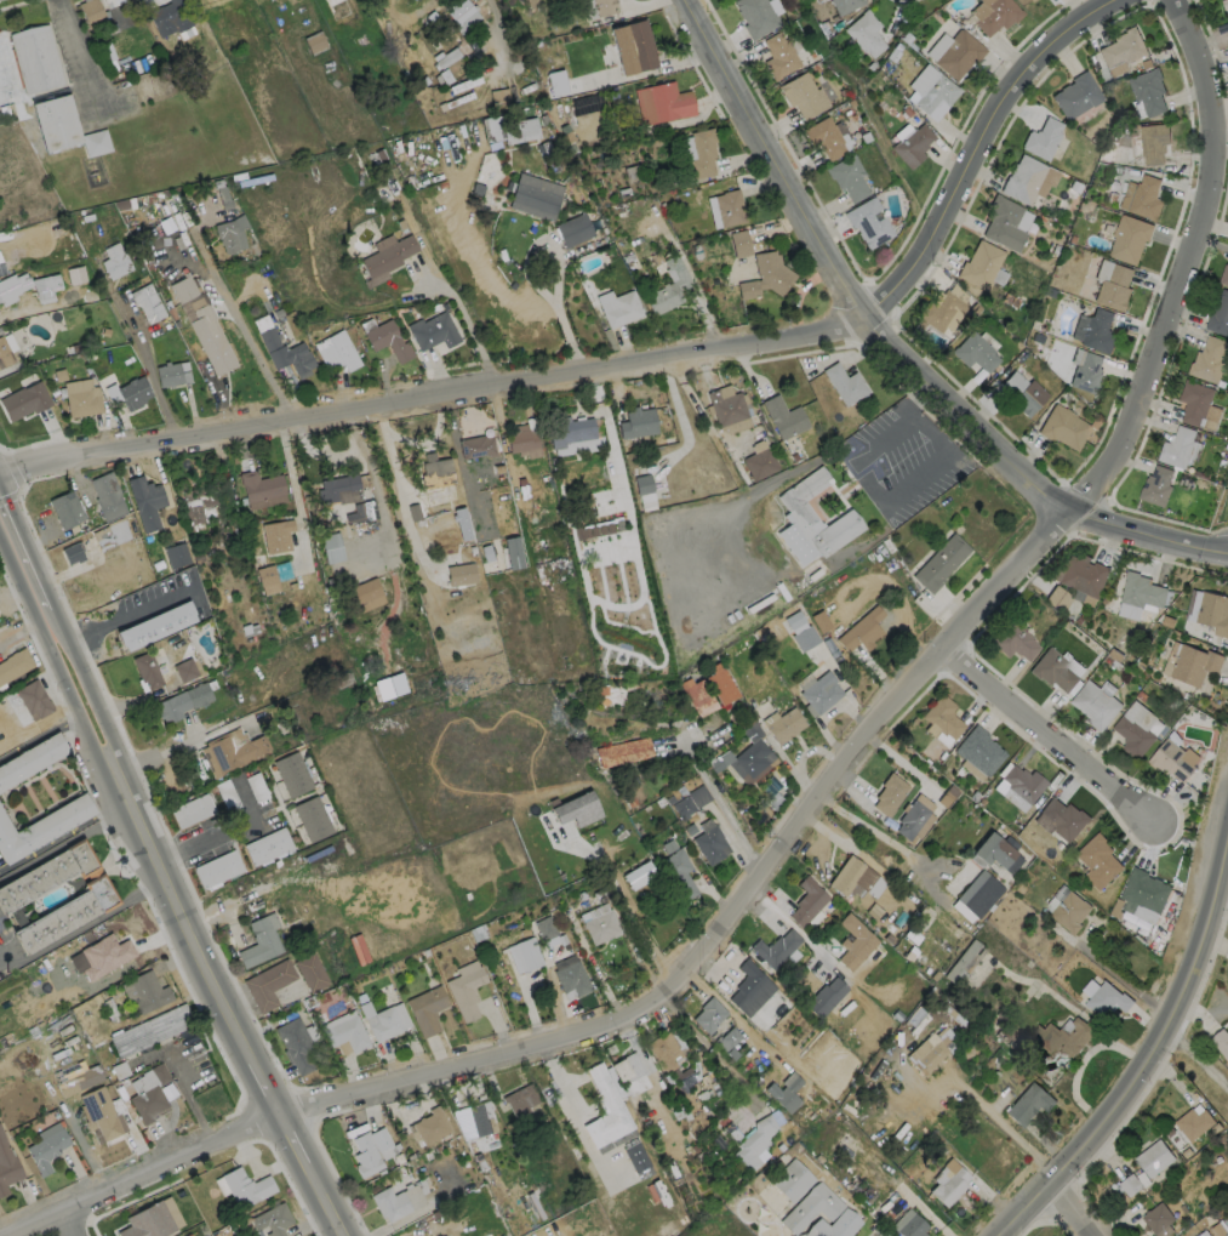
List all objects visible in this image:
building: (1030, 0)
building: (846, 5)
building: (1224, 5)
building: (602, 6)
road: (404, 11)
building: (461, 11)
building: (91, 13)
building: (998, 15)
building: (755, 16)
building: (171, 17)
building: (866, 33)
road: (497, 35)
building: (315, 42)
building: (633, 46)
building: (1123, 47)
building: (958, 53)
building: (778, 56)
building: (34, 58)
building: (461, 74)
building: (521, 76)
building: (556, 82)
building: (1147, 91)
building: (450, 92)
building: (935, 93)
building: (803, 95)
building: (1075, 95)
building: (668, 102)
building: (502, 120)
building: (56, 123)
building: (823, 137)
building: (1041, 138)
building: (96, 142)
road: (978, 142)
building: (1153, 143)
building: (912, 144)
building: (702, 153)
road: (776, 159)
building: (847, 177)
building: (1023, 178)
building: (536, 195)
building: (1144, 198)
building: (730, 207)
building: (868, 222)
building: (1003, 223)
building: (573, 229)
building: (230, 234)
building: (1129, 238)
building: (739, 243)
building: (389, 256)
building: (115, 261)
building: (979, 264)
building: (1223, 275)
building: (765, 277)
building: (27, 287)
building: (667, 287)
building: (1114, 287)
building: (148, 302)
building: (621, 309)
building: (942, 311)
building: (1218, 315)
building: (204, 324)
road: (467, 324)
building: (104, 331)
building: (433, 331)
building: (1097, 331)
road: (251, 340)
building: (388, 340)
building: (76, 347)
building: (282, 348)
building: (337, 351)
building: (976, 352)
building: (6, 354)
building: (91, 355)
building: (1209, 359)
building: (1086, 372)
building: (172, 375)
building: (844, 383)
building: (133, 393)
road: (432, 393)
building: (1023, 393)
building: (81, 397)
building: (24, 400)
building: (1193, 401)
building: (727, 404)
building: (784, 417)
building: (638, 422)
road: (895, 426)
building: (1063, 427)
building: (571, 431)
building: (524, 438)
building: (1226, 445)
building: (476, 446)
building: (1176, 448)
building: (794, 456)
road: (941, 457)
building: (760, 463)
road: (1021, 471)
building: (438, 478)
building: (336, 486)
building: (1155, 486)
building: (262, 488)
building: (522, 489)
building: (644, 491)
road: (402, 494)
building: (107, 495)
building: (145, 501)
building: (196, 506)
building: (65, 508)
building: (362, 512)
building: (415, 513)
building: (493, 517)
building: (813, 520)
building: (463, 523)
building: (119, 531)
building: (278, 534)
building: (331, 546)
road: (1224, 551)
building: (73, 552)
building: (486, 552)
building: (513, 552)
road: (1224, 552)
road: (1224, 553)
building: (176, 554)
building: (939, 562)
road: (33, 563)
building: (156, 564)
building: (461, 574)
building: (272, 575)
building: (1083, 576)
building: (1141, 592)
road: (22, 593)
building: (367, 594)
building: (1058, 598)
building: (1212, 613)
road: (127, 615)
building: (821, 621)
building: (154, 625)
building: (249, 630)
building: (862, 630)
building: (805, 637)
building: (1013, 642)
building: (830, 647)
building: (13, 665)
building: (1194, 666)
building: (184, 668)
building: (145, 670)
building: (1053, 670)
road: (84, 673)
building: (342, 679)
road: (63, 683)
building: (721, 683)
building: (389, 687)
building: (601, 689)
building: (818, 691)
building: (698, 695)
building: (33, 699)
building: (181, 701)
building: (1093, 705)
building: (941, 718)
building: (783, 724)
road: (1053, 730)
building: (1135, 730)
road: (40, 745)
building: (979, 750)
building: (232, 751)
building: (622, 751)
road: (112, 752)
road: (102, 759)
building: (753, 759)
building: (1170, 761)
building: (32, 762)
building: (716, 765)
building: (293, 773)
building: (1018, 785)
building: (257, 787)
building: (770, 791)
building: (889, 793)
building: (947, 796)
building: (973, 796)
building: (227, 797)
building: (669, 799)
building: (630, 801)
building: (659, 801)
building: (691, 801)
road: (721, 804)
road: (810, 804)
building: (576, 808)
building: (192, 810)
building: (313, 818)
building: (914, 818)
building: (1061, 819)
building: (41, 826)
road: (61, 832)
road: (875, 833)
road: (206, 837)
building: (710, 842)
road: (63, 843)
building: (669, 845)
building: (267, 847)
building: (996, 851)
building: (1097, 860)
building: (217, 868)
building: (679, 872)
building: (639, 873)
building: (855, 878)
building: (1143, 892)
building: (601, 894)
building: (581, 895)
building: (93, 896)
building: (976, 896)
building: (807, 901)
road: (628, 910)
building: (1070, 911)
building: (601, 923)
road: (85, 925)
road: (190, 925)
building: (546, 928)
building: (479, 933)
building: (910, 935)
building: (886, 938)
building: (261, 939)
building: (561, 939)
building: (853, 941)
building: (778, 949)
building: (908, 953)
building: (104, 955)
building: (524, 955)
building: (963, 962)
building: (310, 972)
building: (570, 975)
building: (268, 984)
building: (750, 987)
building: (466, 989)
building: (145, 991)
building: (322, 997)
building: (360, 997)
building: (824, 997)
building: (1107, 1001)
building: (427, 1009)
road: (1201, 1012)
building: (709, 1014)
building: (893, 1014)
building: (384, 1020)
building: (150, 1030)
building: (344, 1031)
building: (1064, 1035)
building: (727, 1042)
building: (1220, 1042)
building: (296, 1044)
road: (1155, 1044)
building: (666, 1049)
building: (925, 1053)
road: (1196, 1058)
building: (629, 1072)
building: (78, 1081)
road: (264, 1084)
building: (783, 1093)
building: (520, 1099)
building: (147, 1103)
building: (1028, 1103)
building: (607, 1112)
building: (99, 1115)
building: (476, 1117)
building: (1192, 1123)
building: (429, 1126)
road: (299, 1130)
road: (1007, 1132)
road: (281, 1139)
building: (753, 1141)
building: (369, 1149)
building: (46, 1150)
building: (636, 1158)
building: (1153, 1158)
building: (7, 1166)
building: (789, 1179)
building: (948, 1184)
building: (1129, 1185)
building: (245, 1186)
road: (333, 1197)
road: (314, 1201)
building: (389, 1202)
building: (816, 1208)
road: (1074, 1209)
building: (1156, 1218)
building: (272, 1219)
road: (75, 1221)
building: (147, 1221)
building: (908, 1223)

